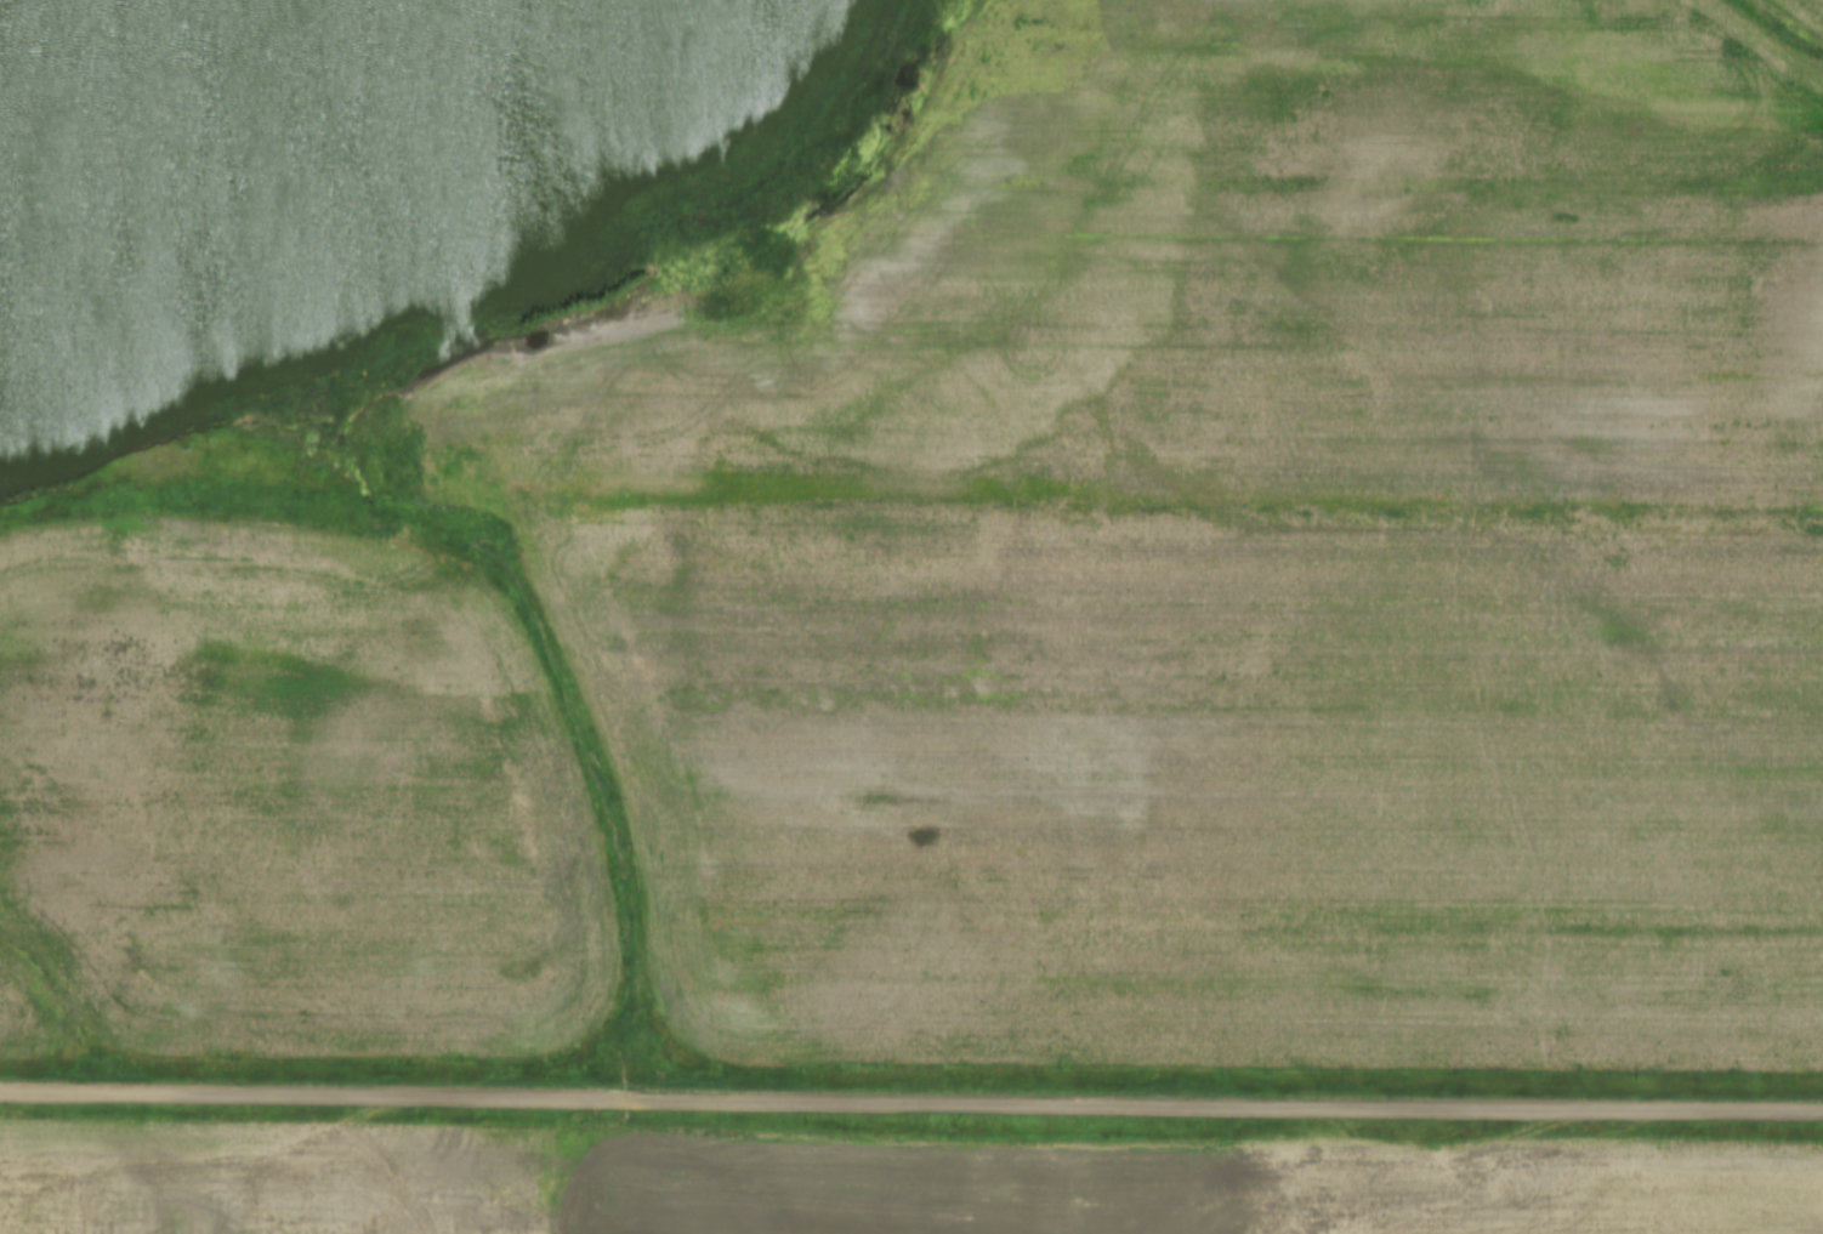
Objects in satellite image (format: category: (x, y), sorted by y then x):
road: (911, 1102)

